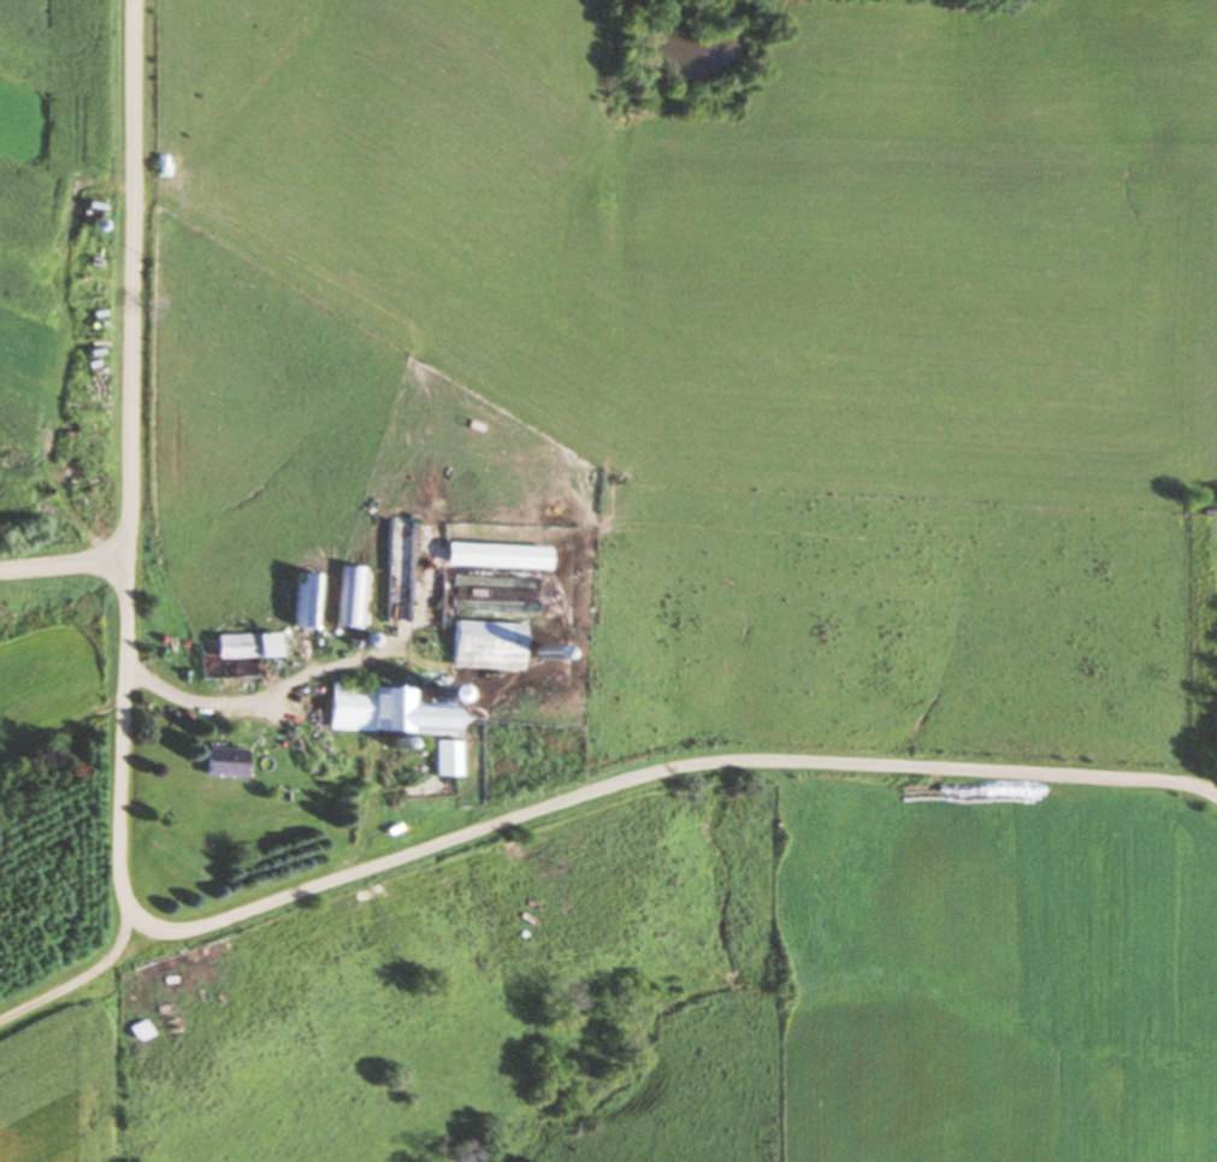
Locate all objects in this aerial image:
road: (128, 283)
building: (494, 556)
road: (61, 565)
building: (494, 595)
building: (351, 598)
building: (305, 602)
building: (242, 647)
building: (484, 647)
building: (384, 712)
building: (442, 760)
building: (221, 763)
road: (494, 824)
road: (77, 978)

